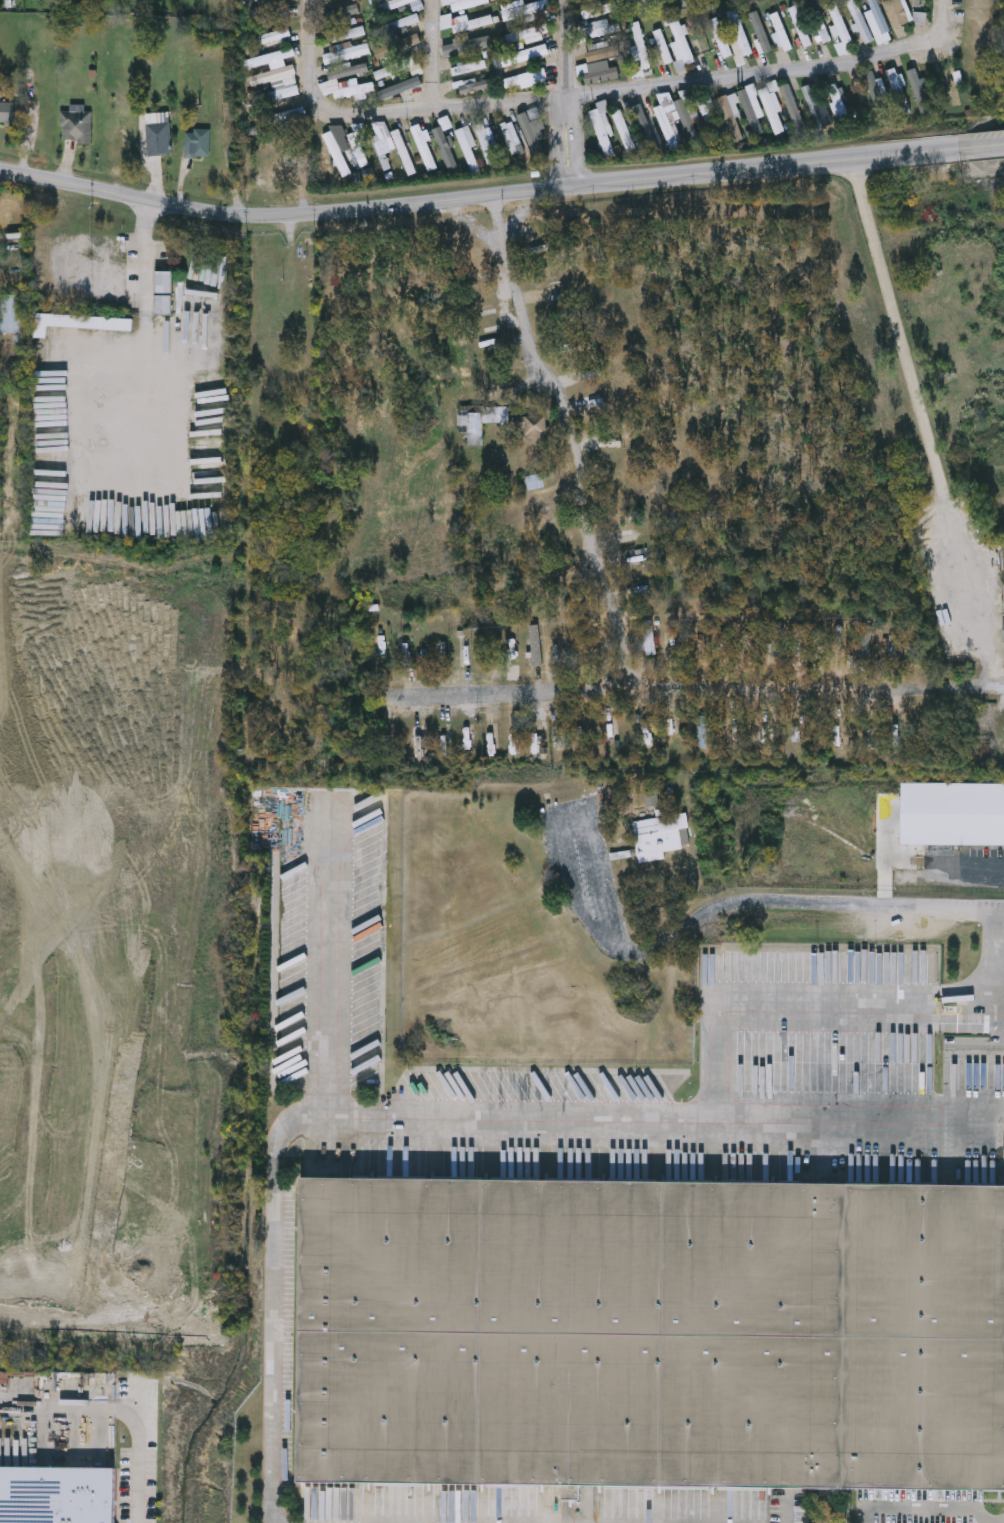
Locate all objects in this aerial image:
building: (464, 3)
building: (393, 4)
building: (269, 10)
building: (526, 10)
building: (592, 12)
building: (897, 12)
building: (860, 21)
building: (463, 22)
building: (800, 27)
building: (821, 27)
building: (840, 29)
building: (604, 31)
building: (760, 32)
building: (780, 32)
building: (348, 33)
building: (740, 33)
road: (311, 38)
building: (723, 41)
building: (680, 44)
building: (466, 45)
building: (640, 45)
building: (399, 46)
building: (663, 47)
building: (602, 52)
building: (346, 53)
road: (434, 55)
building: (271, 57)
building: (508, 59)
building: (467, 67)
building: (394, 68)
building: (348, 70)
building: (601, 75)
building: (272, 76)
building: (523, 78)
building: (473, 85)
building: (953, 85)
building: (397, 88)
building: (352, 90)
building: (898, 91)
road: (569, 92)
road: (634, 92)
building: (276, 96)
building: (877, 97)
building: (839, 105)
building: (793, 108)
building: (815, 108)
building: (762, 109)
building: (10, 111)
building: (709, 116)
building: (535, 118)
building: (732, 118)
building: (77, 123)
building: (688, 123)
building: (644, 128)
building: (668, 128)
building: (603, 130)
building: (624, 131)
building: (159, 139)
building: (199, 141)
building: (444, 141)
building: (486, 143)
building: (423, 147)
building: (468, 147)
road: (986, 147)
building: (358, 150)
building: (336, 154)
building: (403, 154)
road: (482, 194)
road: (141, 289)
building: (551, 293)
building: (164, 294)
building: (11, 317)
building: (80, 321)
building: (470, 425)
building: (533, 425)
road: (924, 426)
road: (563, 441)
building: (535, 479)
building: (647, 635)
building: (775, 637)
building: (378, 642)
building: (533, 642)
building: (579, 647)
building: (605, 647)
road: (700, 690)
building: (643, 727)
building: (732, 728)
building: (702, 729)
building: (765, 731)
building: (532, 738)
building: (556, 738)
building: (419, 742)
building: (951, 814)
building: (656, 837)
road: (924, 860)
road: (729, 902)
road: (485, 1114)
building: (652, 1335)
road: (63, 1409)
road: (139, 1466)
building: (58, 1494)
road: (930, 1511)

